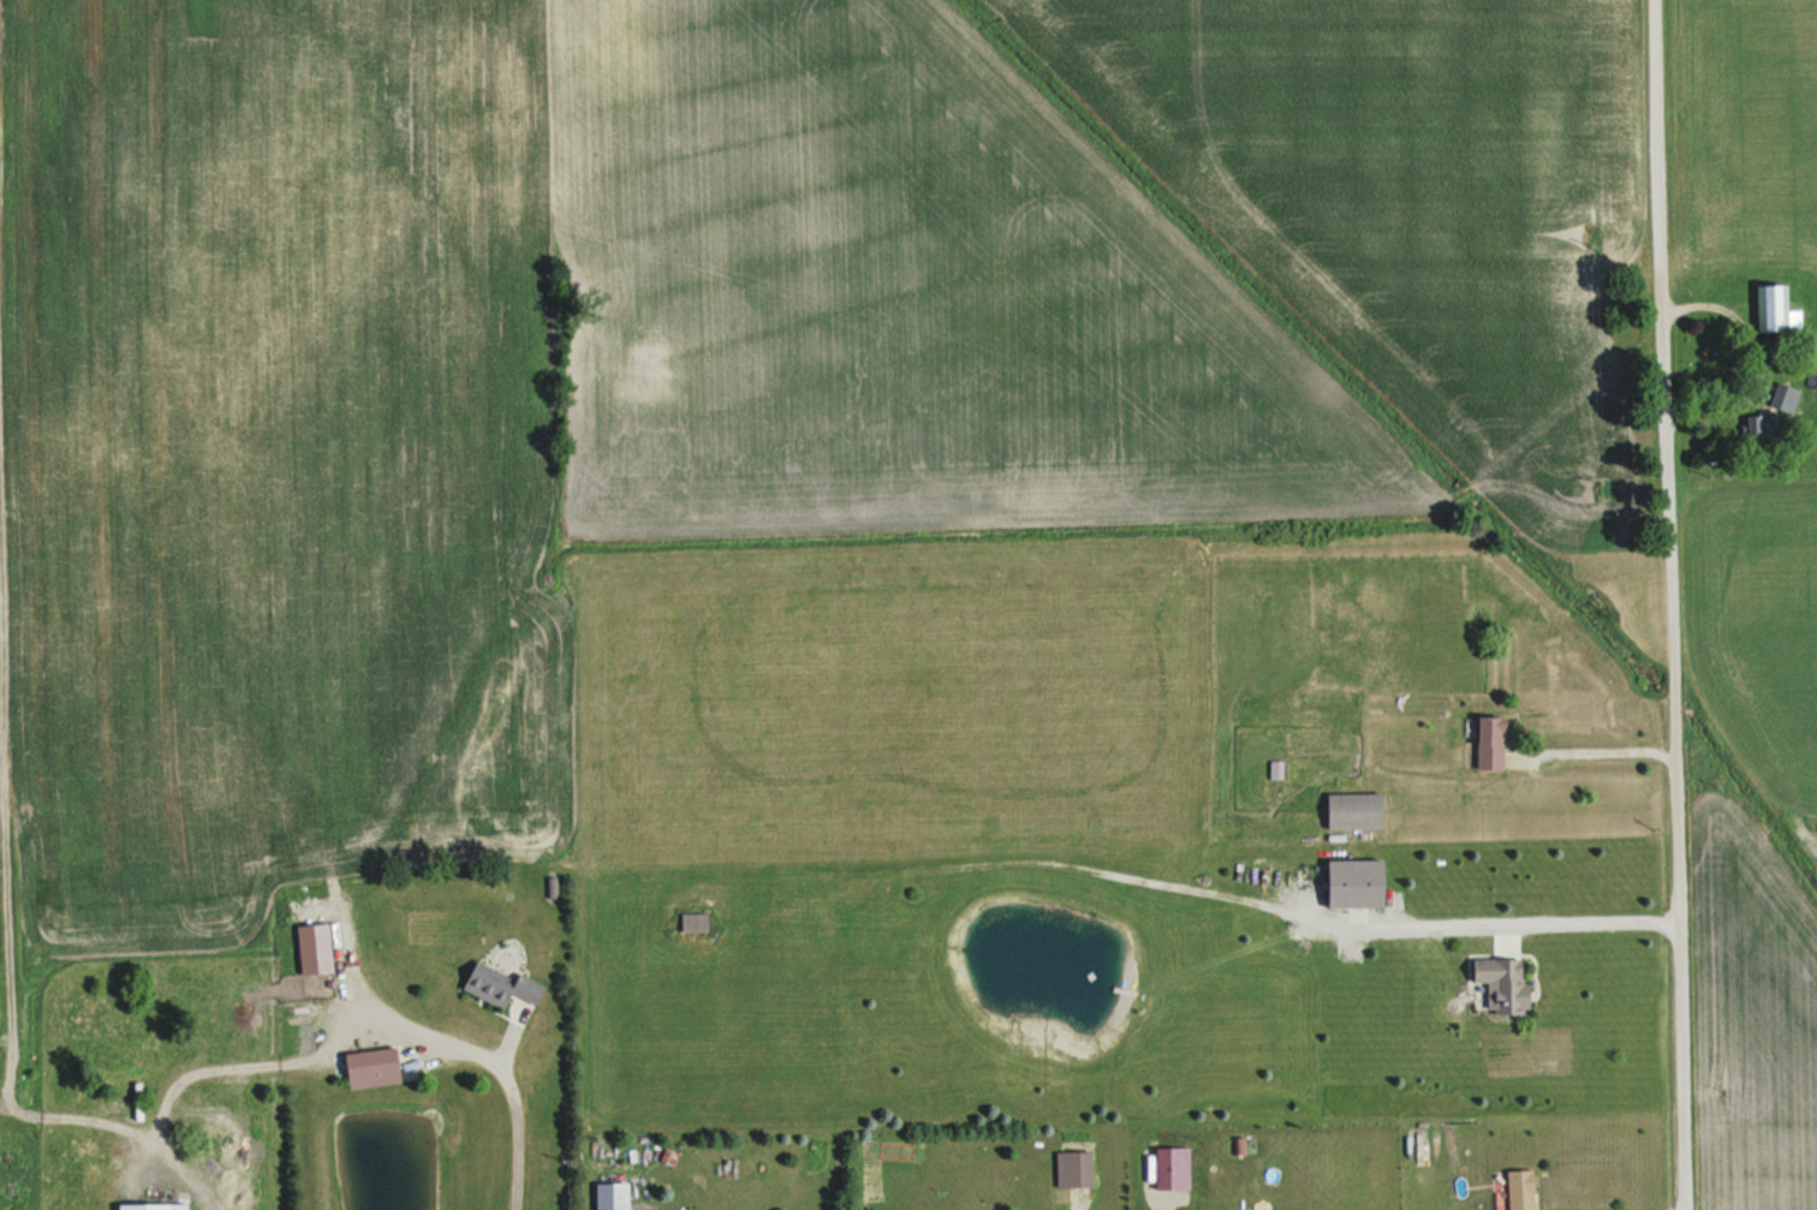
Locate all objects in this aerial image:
building: (1780, 314)
building: (1788, 400)
building: (1764, 427)
road: (1684, 604)
building: (1495, 746)
road: (1608, 752)
building: (1359, 812)
building: (1362, 886)
building: (697, 923)
road: (1489, 924)
building: (1508, 984)
building: (504, 988)
road: (329, 1030)
building: (377, 1069)
building: (1078, 1170)
building: (1525, 1191)
building: (148, 1208)

